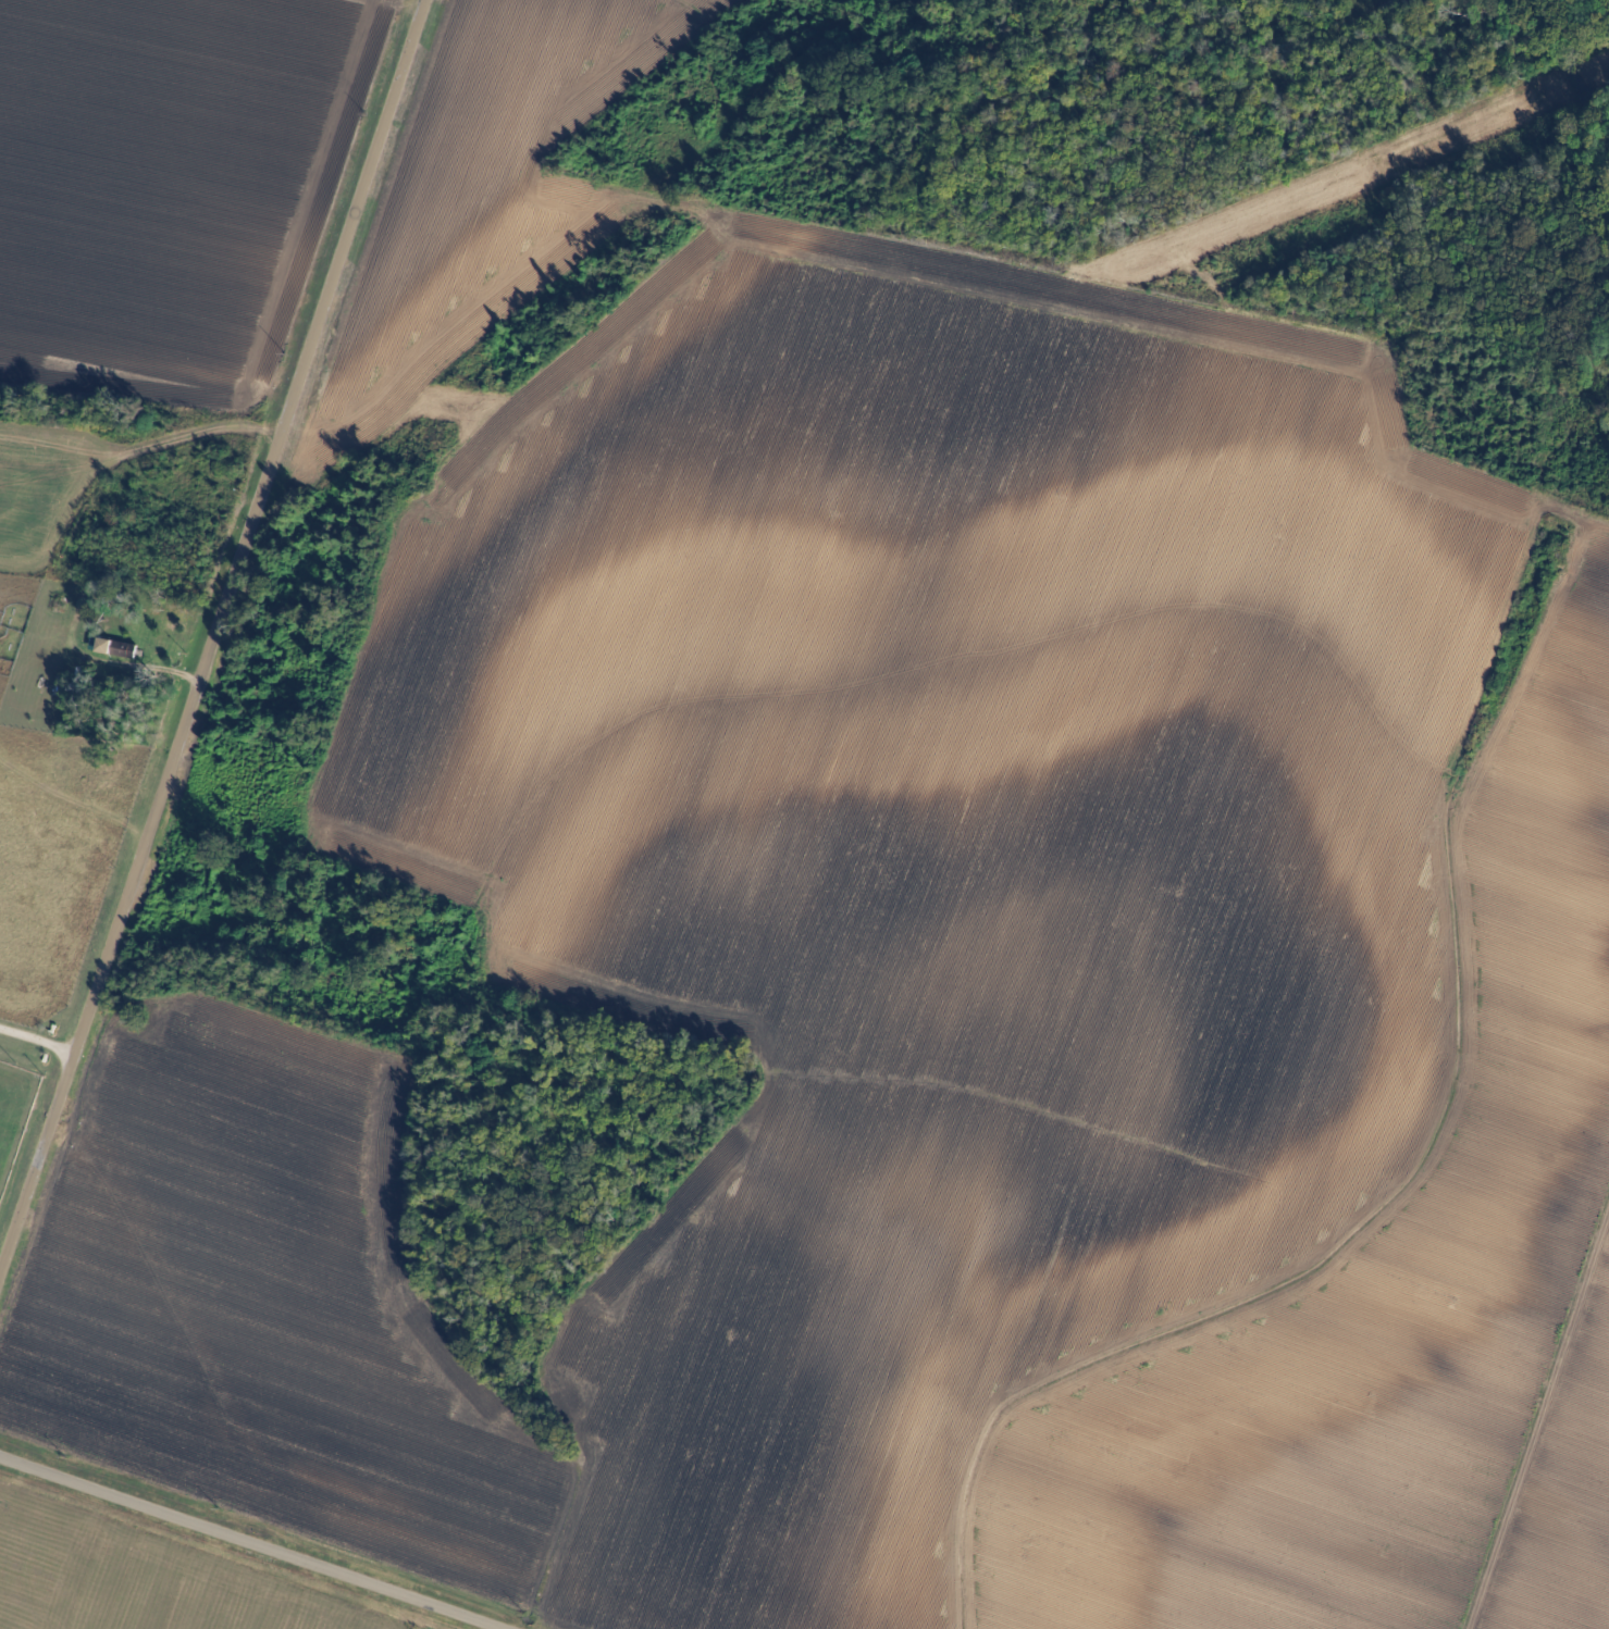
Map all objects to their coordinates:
road: (222, 643)
building: (124, 647)
road: (39, 1041)
road: (258, 1540)

